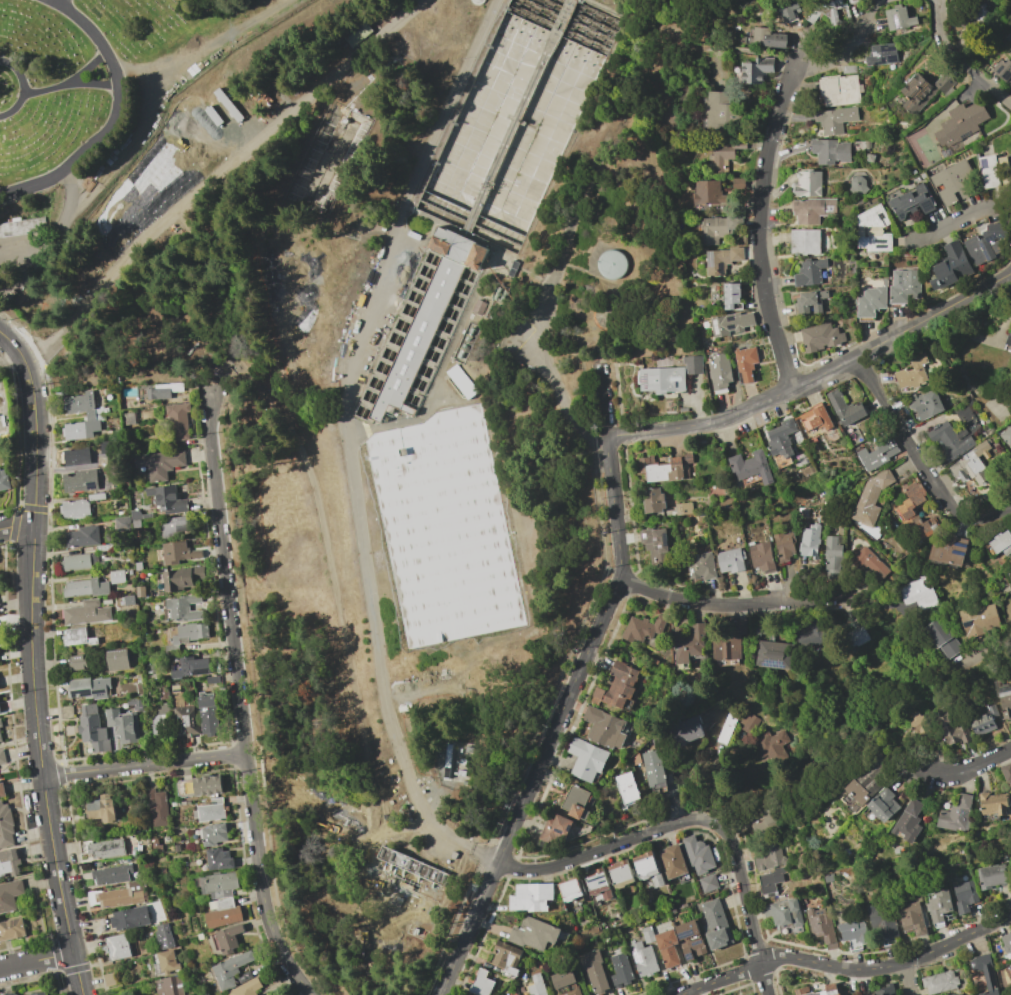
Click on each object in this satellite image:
building: (850, 0)
building: (854, 0)
building: (949, 0)
building: (953, 0)
road: (60, 1)
road: (62, 1)
building: (477, 2)
building: (791, 8)
building: (826, 10)
building: (979, 12)
building: (899, 18)
building: (357, 34)
building: (768, 38)
building: (1009, 39)
building: (1010, 47)
road: (206, 50)
building: (882, 54)
road: (961, 59)
road: (345, 68)
building: (848, 69)
building: (756, 70)
building: (1003, 70)
road: (18, 74)
road: (72, 81)
road: (91, 87)
building: (840, 90)
building: (923, 90)
park: (97, 98)
road: (16, 110)
building: (721, 112)
building: (519, 117)
road: (115, 118)
road: (443, 118)
building: (835, 120)
building: (962, 124)
building: (901, 126)
building: (868, 145)
building: (340, 149)
building: (831, 151)
building: (724, 152)
building: (870, 158)
building: (991, 169)
road: (766, 170)
building: (914, 172)
building: (922, 177)
building: (954, 182)
building: (858, 183)
building: (807, 184)
building: (708, 193)
building: (913, 203)
building: (814, 210)
road: (960, 220)
building: (21, 227)
building: (719, 228)
building: (874, 229)
building: (805, 241)
road: (135, 244)
building: (985, 244)
building: (722, 260)
building: (611, 264)
building: (950, 266)
building: (810, 272)
building: (406, 274)
building: (905, 287)
building: (288, 292)
building: (733, 296)
building: (393, 297)
building: (810, 302)
building: (871, 302)
building: (478, 307)
road: (933, 316)
building: (731, 323)
building: (421, 328)
building: (821, 337)
building: (1009, 340)
building: (746, 362)
building: (692, 364)
building: (720, 373)
building: (914, 373)
building: (663, 381)
building: (460, 382)
building: (967, 382)
building: (163, 390)
road: (604, 402)
building: (927, 404)
building: (86, 407)
building: (844, 407)
road: (736, 414)
building: (816, 418)
building: (129, 419)
building: (180, 419)
building: (75, 431)
building: (954, 435)
building: (854, 436)
building: (1006, 436)
building: (781, 442)
building: (878, 451)
building: (75, 457)
road: (919, 460)
building: (161, 464)
building: (972, 464)
building: (665, 468)
building: (750, 468)
building: (832, 472)
building: (4, 480)
building: (80, 482)
building: (96, 497)
building: (871, 498)
building: (166, 499)
building: (653, 500)
building: (910, 501)
building: (75, 509)
building: (684, 509)
building: (136, 524)
road: (16, 526)
building: (175, 527)
building: (928, 527)
building: (444, 528)
building: (103, 530)
building: (82, 536)
building: (654, 539)
building: (810, 542)
building: (1001, 543)
building: (784, 546)
building: (104, 548)
building: (948, 552)
building: (177, 553)
building: (833, 553)
building: (761, 556)
building: (731, 560)
building: (75, 562)
building: (869, 562)
building: (138, 566)
building: (701, 566)
road: (226, 570)
building: (130, 573)
road: (324, 573)
building: (117, 576)
building: (182, 577)
building: (127, 587)
building: (86, 588)
building: (140, 592)
building: (918, 593)
building: (127, 599)
building: (107, 601)
building: (1010, 602)
road: (724, 605)
building: (184, 608)
building: (87, 612)
building: (980, 621)
building: (761, 626)
building: (643, 629)
building: (190, 633)
building: (810, 634)
building: (78, 637)
building: (857, 637)
building: (942, 638)
building: (689, 645)
building: (728, 645)
building: (172, 649)
building: (774, 654)
building: (78, 658)
building: (118, 659)
road: (29, 661)
building: (78, 666)
building: (192, 667)
building: (212, 679)
building: (618, 687)
building: (85, 688)
building: (177, 694)
building: (1004, 698)
building: (137, 704)
building: (101, 706)
building: (208, 715)
building: (160, 718)
building: (983, 719)
road: (560, 721)
building: (185, 723)
building: (920, 723)
building: (0, 725)
building: (123, 725)
building: (749, 725)
building: (727, 727)
building: (92, 728)
building: (605, 728)
building: (685, 731)
building: (956, 735)
building: (1, 736)
building: (765, 746)
building: (2, 756)
building: (587, 759)
road: (144, 765)
building: (461, 765)
building: (653, 767)
road: (970, 768)
building: (1007, 774)
building: (865, 784)
building: (204, 786)
building: (2, 789)
building: (627, 790)
building: (185, 802)
building: (578, 802)
building: (994, 803)
building: (175, 804)
building: (881, 806)
building: (158, 807)
building: (100, 810)
building: (210, 813)
building: (957, 814)
building: (769, 819)
road: (693, 820)
building: (908, 822)
building: (6, 826)
building: (555, 828)
building: (212, 835)
building: (156, 845)
building: (107, 849)
building: (698, 854)
building: (770, 858)
building: (216, 859)
road: (916, 860)
building: (9, 862)
building: (674, 863)
building: (649, 868)
building: (410, 873)
building: (112, 874)
building: (991, 876)
building: (622, 877)
road: (261, 881)
building: (770, 881)
building: (598, 883)
building: (708, 883)
building: (218, 884)
building: (571, 890)
building: (10, 895)
building: (122, 895)
building: (964, 896)
building: (532, 897)
building: (939, 905)
building: (223, 913)
building: (785, 915)
building: (130, 918)
building: (911, 919)
building: (883, 923)
building: (715, 924)
building: (822, 926)
building: (12, 929)
building: (853, 931)
building: (537, 934)
building: (647, 934)
building: (163, 936)
road: (964, 937)
building: (226, 939)
building: (691, 939)
building: (1006, 941)
building: (118, 947)
building: (667, 948)
building: (532, 955)
building: (643, 958)
building: (507, 959)
road: (36, 960)
road: (771, 960)
building: (165, 963)
road: (894, 966)
building: (1010, 966)
building: (620, 969)
building: (230, 970)
building: (594, 970)
building: (986, 972)
building: (244, 977)
road: (906, 980)
building: (939, 982)
building: (482, 983)
building: (566, 983)
building: (536, 985)
building: (169, 986)
building: (247, 987)
building: (831, 988)
building: (885, 990)
building: (39, 993)
building: (10, 994)
building: (515, 994)
building: (958, 994)

